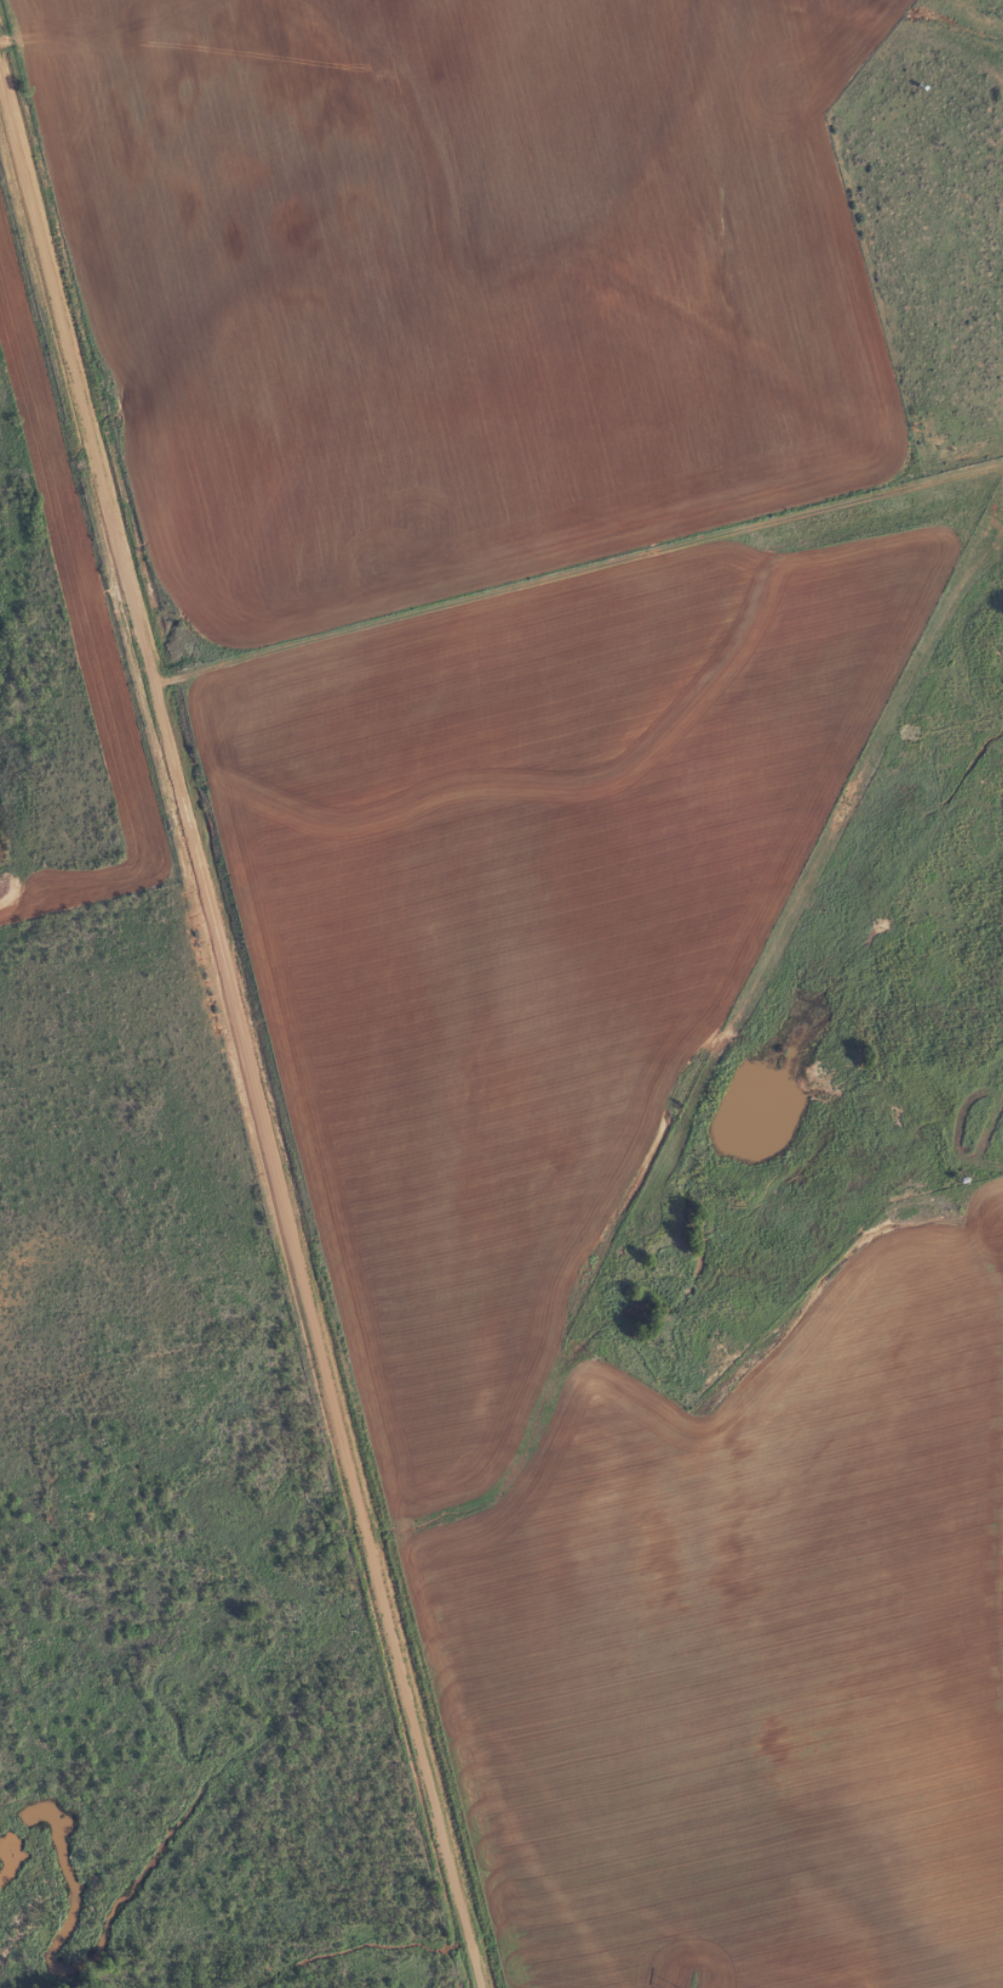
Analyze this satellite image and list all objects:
road: (226, 1046)
power tower: (52, 1920)
power tower: (389, 1964)

